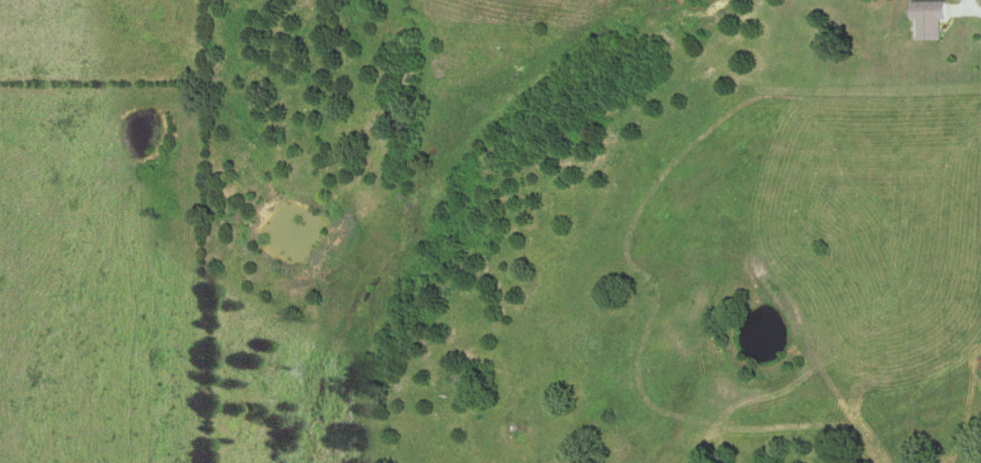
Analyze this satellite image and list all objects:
road: (967, 9)
building: (928, 19)

